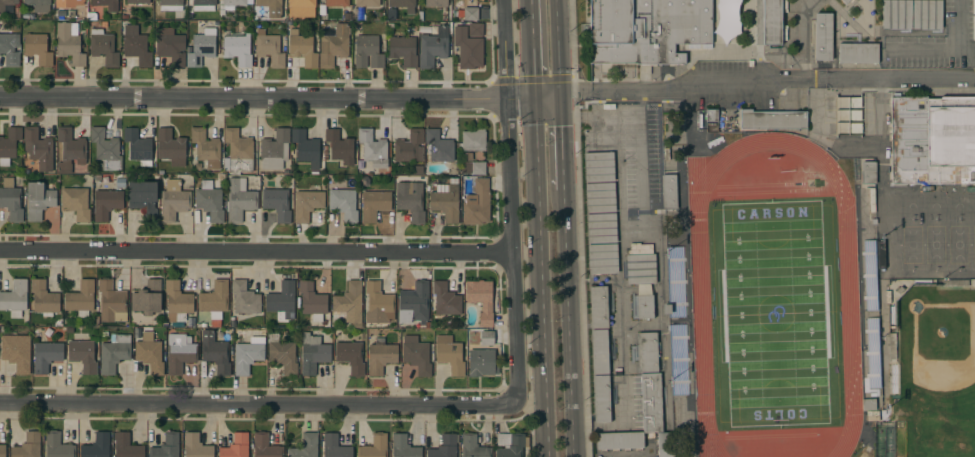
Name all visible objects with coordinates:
building: (845, 1)
building: (137, 2)
building: (237, 2)
building: (337, 3)
building: (367, 3)
building: (403, 3)
building: (436, 3)
building: (107, 4)
building: (6, 5)
building: (39, 5)
building: (171, 5)
building: (203, 5)
building: (271, 7)
building: (301, 8)
building: (59, 9)
building: (321, 10)
building: (950, 13)
building: (470, 14)
building: (896, 14)
building: (927, 14)
building: (158, 16)
building: (25, 17)
building: (347, 17)
building: (770, 22)
building: (202, 24)
building: (104, 25)
building: (475, 29)
building: (646, 29)
building: (425, 30)
building: (823, 36)
road: (960, 36)
building: (69, 43)
building: (135, 46)
building: (334, 46)
building: (103, 47)
building: (171, 47)
building: (202, 47)
building: (433, 47)
building: (37, 48)
building: (269, 48)
building: (301, 48)
road: (532, 48)
road: (557, 48)
road: (932, 48)
building: (468, 49)
building: (9, 50)
building: (236, 50)
building: (403, 51)
building: (368, 52)
building: (858, 53)
road: (766, 79)
road: (545, 97)
road: (266, 98)
road: (640, 103)
building: (711, 115)
building: (772, 120)
building: (472, 140)
building: (932, 140)
road: (560, 142)
building: (9, 145)
building: (409, 146)
building: (438, 146)
building: (138, 147)
building: (340, 147)
building: (170, 148)
building: (206, 148)
building: (306, 148)
building: (372, 148)
road: (641, 148)
building: (38, 149)
building: (70, 150)
building: (105, 150)
building: (274, 150)
building: (237, 152)
building: (599, 167)
building: (473, 168)
building: (415, 170)
building: (868, 173)
building: (669, 192)
building: (600, 198)
building: (143, 199)
building: (11, 200)
building: (38, 200)
building: (239, 200)
building: (410, 200)
building: (446, 200)
building: (173, 201)
building: (209, 201)
road: (508, 201)
building: (76, 203)
building: (307, 203)
building: (106, 204)
building: (277, 204)
building: (343, 204)
building: (477, 204)
building: (374, 205)
building: (601, 228)
road: (255, 251)
building: (881, 255)
building: (602, 259)
building: (641, 265)
road: (541, 277)
building: (955, 283)
building: (147, 297)
building: (14, 298)
building: (80, 298)
building: (244, 298)
building: (44, 299)
building: (214, 299)
building: (445, 299)
building: (177, 300)
building: (480, 300)
building: (282, 301)
building: (312, 301)
building: (111, 302)
building: (350, 303)
building: (414, 303)
building: (378, 306)
building: (645, 306)
building: (598, 307)
park: (775, 314)
track: (849, 314)
road: (566, 323)
building: (137, 334)
building: (480, 337)
building: (892, 346)
park: (936, 350)
building: (16, 352)
building: (215, 352)
building: (599, 352)
building: (647, 352)
building: (149, 353)
building: (179, 353)
building: (313, 353)
building: (114, 354)
building: (449, 354)
building: (83, 355)
building: (248, 355)
building: (282, 355)
building: (416, 355)
building: (46, 356)
building: (380, 356)
building: (350, 357)
building: (482, 362)
building: (601, 399)
road: (256, 402)
building: (868, 404)
building: (872, 415)
building: (643, 422)
park: (939, 435)
building: (510, 444)
building: (27, 446)
building: (57, 446)
building: (96, 446)
building: (126, 446)
building: (166, 446)
building: (195, 446)
building: (236, 446)
building: (265, 446)
building: (374, 446)
building: (305, 447)
building: (334, 447)
building: (404, 447)
building: (444, 447)
building: (473, 447)
building: (2, 450)

